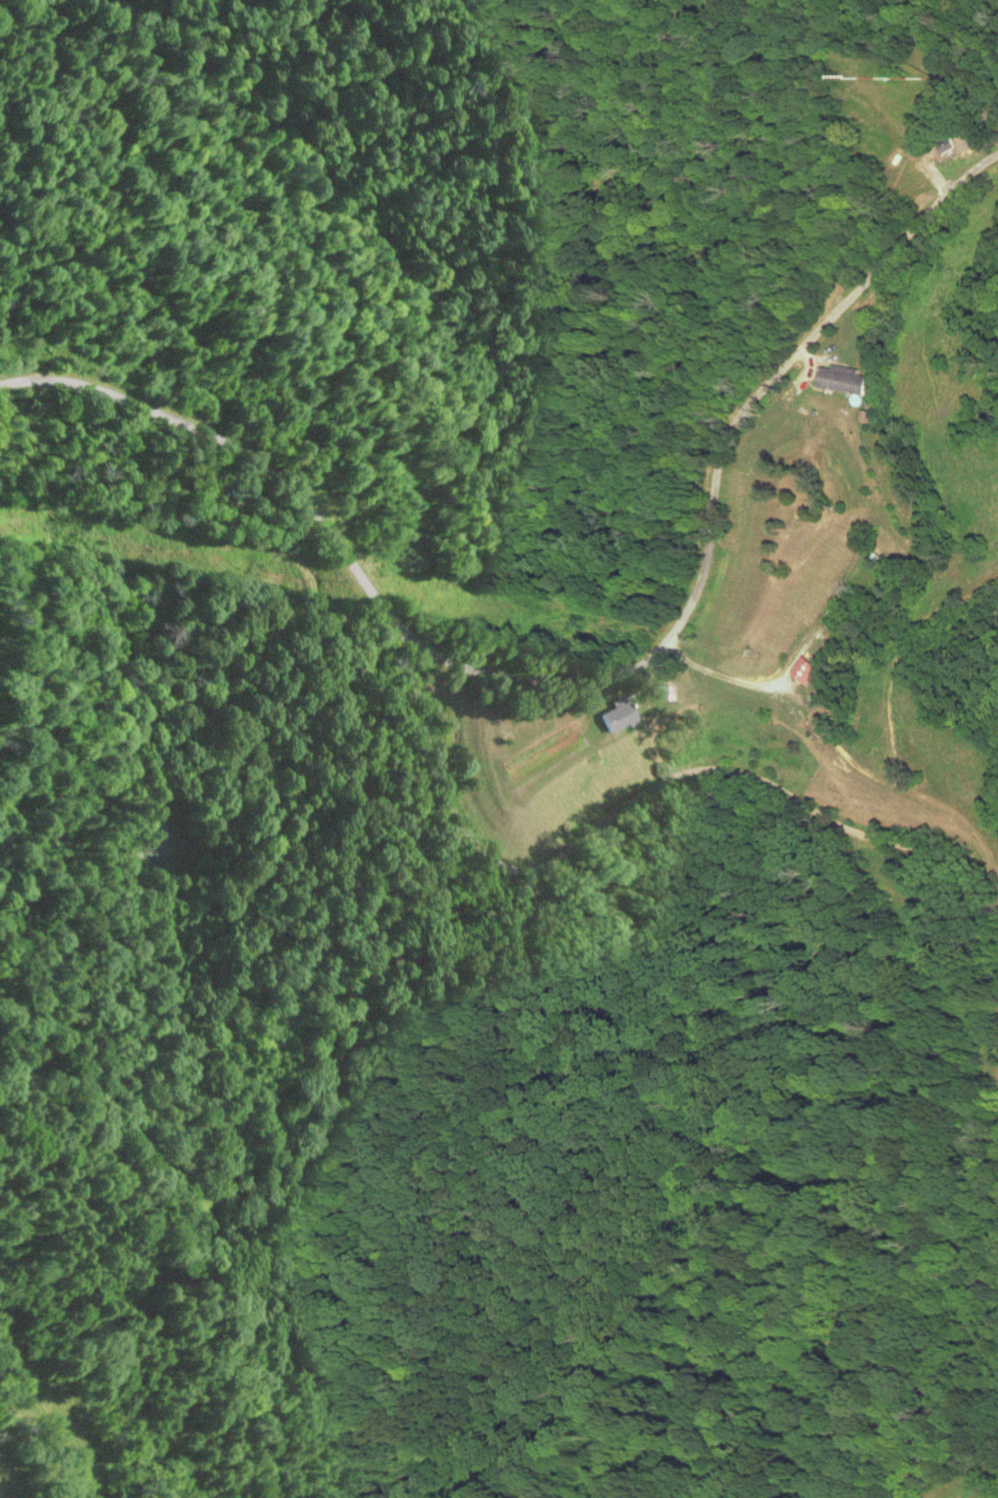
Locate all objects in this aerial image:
building: (846, 379)
building: (809, 671)
road: (587, 675)
building: (618, 715)

